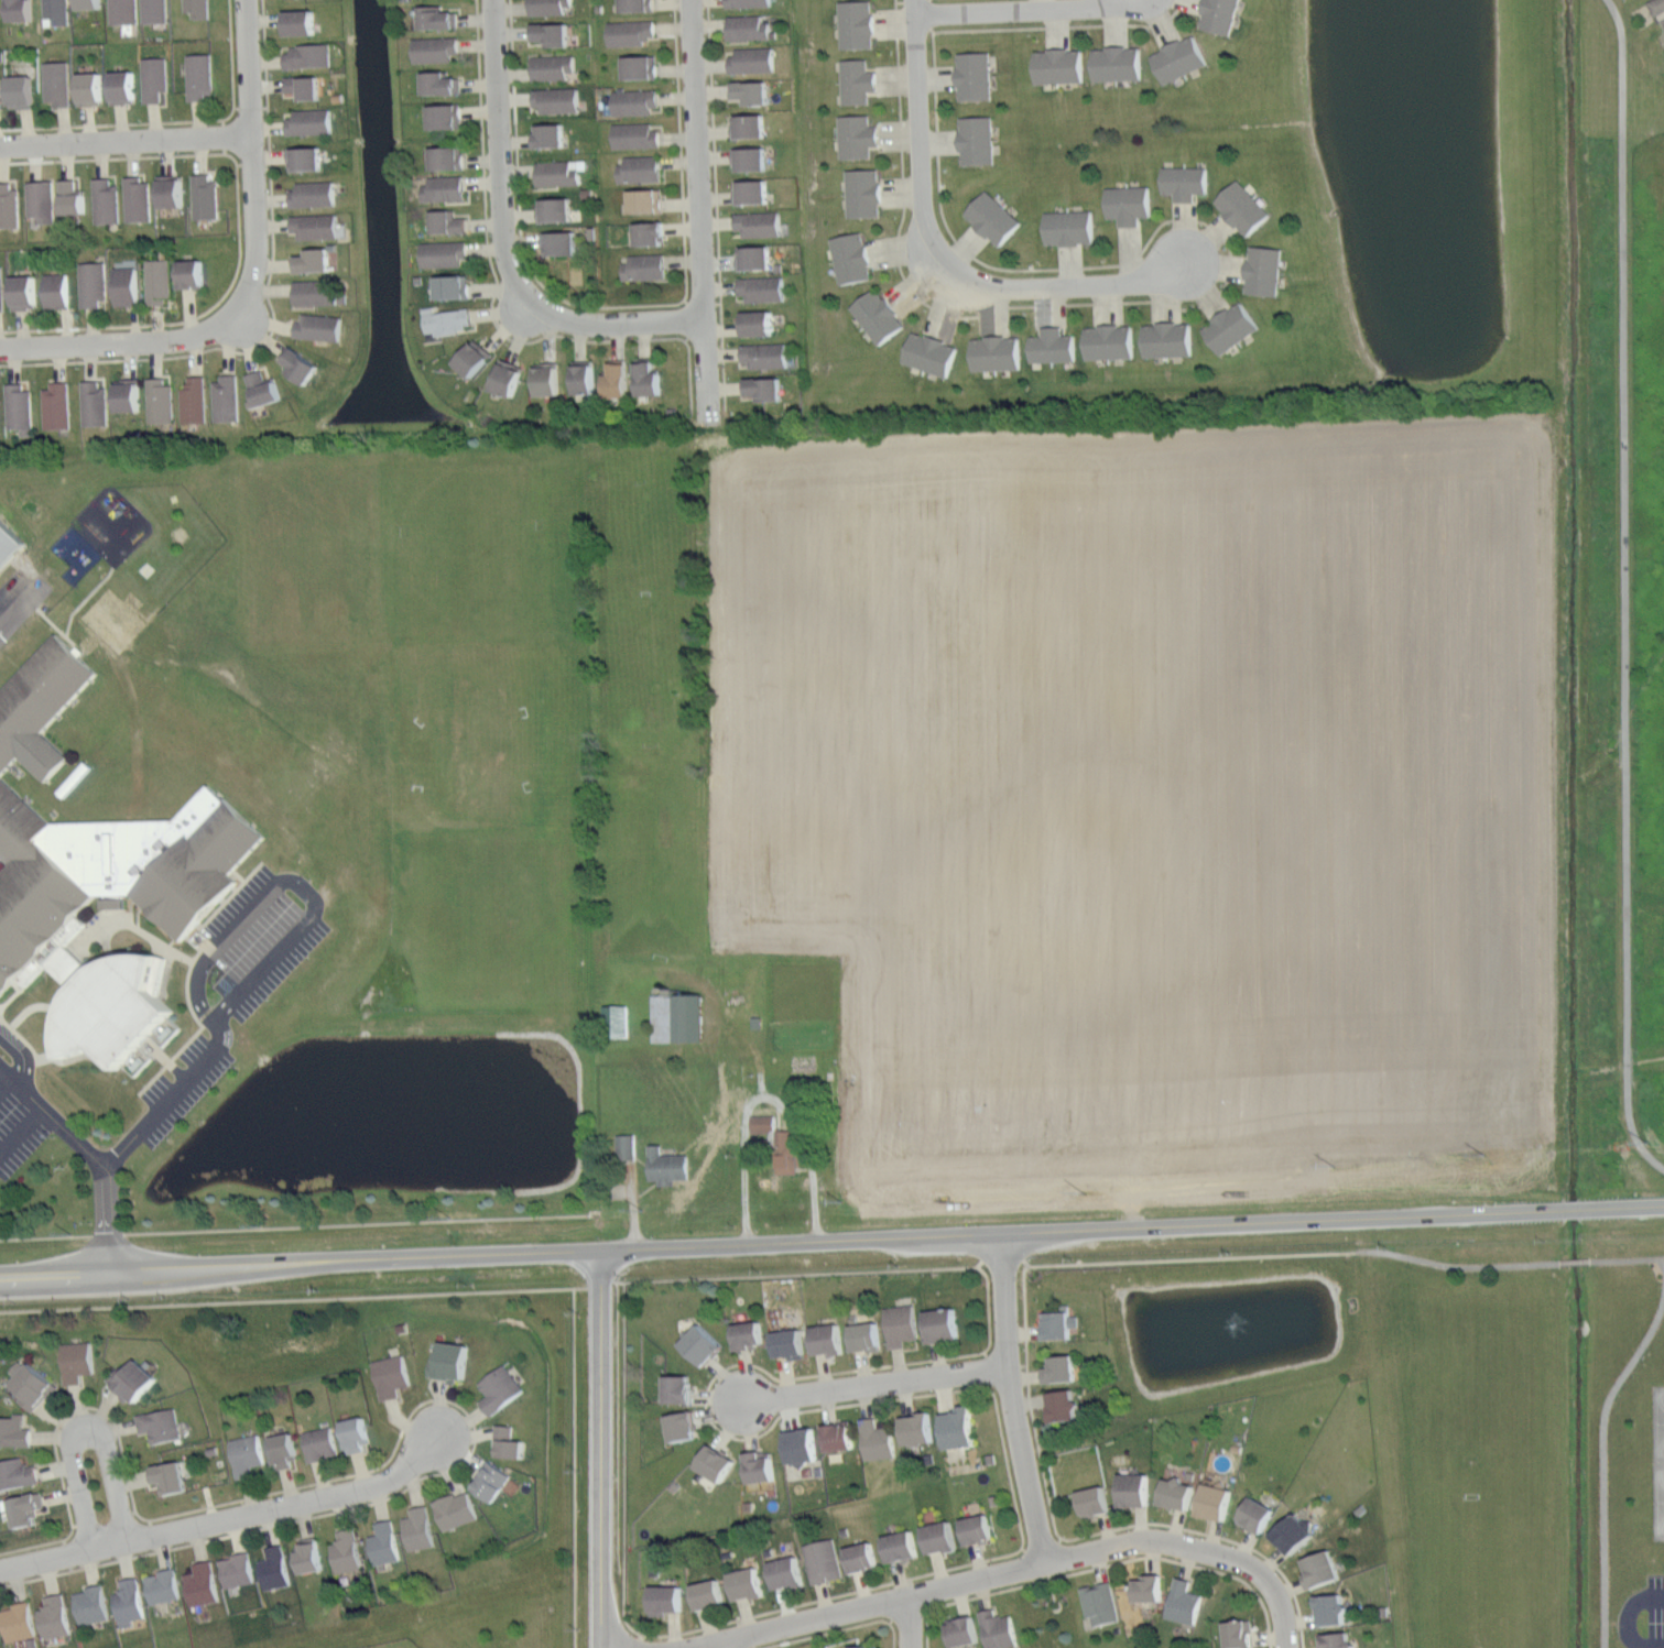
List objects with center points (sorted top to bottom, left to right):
building: (747, 2)
building: (85, 3)
building: (635, 4)
building: (1656, 6)
building: (194, 7)
building: (547, 7)
road: (1022, 8)
building: (1, 9)
building: (15, 9)
building: (53, 10)
building: (151, 10)
building: (119, 11)
road: (1661, 14)
building: (1219, 15)
building: (433, 17)
building: (297, 21)
building: (856, 24)
building: (748, 26)
building: (551, 32)
building: (630, 32)
building: (431, 47)
building: (307, 55)
building: (752, 58)
building: (1177, 58)
building: (1117, 63)
building: (640, 66)
building: (1058, 66)
building: (553, 67)
park: (1616, 72)
building: (195, 75)
building: (151, 76)
building: (975, 76)
building: (857, 80)
building: (54, 81)
building: (436, 81)
building: (119, 86)
building: (301, 86)
building: (86, 87)
building: (18, 90)
building: (752, 91)
building: (2, 92)
building: (557, 99)
building: (634, 101)
building: (441, 116)
road: (173, 120)
building: (308, 122)
building: (751, 125)
road: (923, 130)
building: (550, 134)
building: (634, 134)
building: (858, 137)
road: (124, 140)
building: (977, 140)
building: (443, 156)
building: (749, 157)
building: (303, 159)
road: (249, 160)
building: (640, 168)
building: (557, 173)
building: (1185, 182)
building: (441, 186)
building: (166, 189)
building: (751, 192)
building: (863, 193)
building: (312, 194)
building: (202, 195)
building: (67, 196)
building: (36, 198)
building: (134, 198)
building: (101, 199)
building: (644, 200)
building: (1128, 204)
crop: (1651, 204)
building: (8, 205)
road: (716, 205)
building: (1242, 207)
building: (555, 209)
road: (699, 210)
building: (993, 217)
road: (1181, 219)
building: (443, 220)
building: (758, 222)
building: (313, 225)
road: (238, 227)
building: (1069, 227)
building: (649, 233)
road: (501, 241)
building: (561, 242)
building: (439, 252)
building: (754, 258)
building: (850, 258)
building: (309, 260)
building: (644, 266)
building: (1264, 271)
building: (187, 272)
building: (155, 279)
building: (89, 282)
building: (122, 284)
road: (1058, 284)
building: (448, 286)
building: (53, 288)
building: (761, 288)
building: (1, 291)
building: (20, 292)
building: (313, 292)
road: (493, 297)
road: (271, 305)
road: (615, 305)
building: (877, 315)
building: (443, 319)
building: (757, 323)
building: (316, 327)
building: (1231, 327)
building: (1167, 340)
road: (127, 342)
building: (1110, 342)
building: (1053, 346)
building: (996, 353)
building: (765, 354)
building: (931, 354)
building: (467, 358)
building: (295, 363)
building: (578, 376)
building: (502, 378)
building: (612, 378)
building: (643, 378)
building: (543, 379)
building: (261, 388)
building: (764, 389)
building: (126, 395)
building: (225, 397)
building: (192, 400)
building: (159, 401)
building: (93, 402)
building: (55, 405)
building: (19, 408)
park: (446, 506)
building: (7, 543)
road: (11, 557)
park: (644, 561)
road: (1621, 590)
road: (85, 598)
building: (111, 620)
road: (57, 627)
parking lot: (1, 640)
road: (86, 644)
crop: (1159, 796)
park: (648, 871)
building: (100, 872)
road: (302, 886)
parking lot: (237, 981)
road: (11, 995)
road: (26, 1008)
road: (202, 1014)
building: (678, 1017)
building: (616, 1019)
building: (758, 1021)
road: (45, 1058)
building: (109, 1058)
road: (14, 1073)
road: (182, 1081)
road: (769, 1099)
parking lot: (21, 1114)
road: (30, 1121)
building: (763, 1123)
road: (100, 1133)
building: (626, 1146)
building: (781, 1150)
road: (121, 1152)
road: (642, 1160)
building: (666, 1165)
road: (646, 1188)
road: (633, 1205)
road: (358, 1223)
road: (107, 1233)
road: (45, 1235)
road: (831, 1245)
road: (1347, 1253)
road: (801, 1274)
road: (619, 1280)
road: (580, 1286)
road: (286, 1298)
building: (901, 1324)
building: (1058, 1324)
building: (942, 1325)
fountain: (1243, 1325)
building: (749, 1335)
building: (866, 1335)
building: (827, 1339)
building: (789, 1343)
building: (703, 1344)
building: (447, 1360)
building: (77, 1361)
building: (1061, 1368)
building: (391, 1376)
building: (130, 1379)
building: (32, 1385)
road: (878, 1385)
building: (678, 1387)
building: (500, 1389)
road: (931, 1393)
road: (1010, 1401)
building: (1063, 1405)
park: (1658, 1422)
building: (160, 1423)
road: (617, 1425)
building: (682, 1426)
building: (958, 1427)
park: (1518, 1427)
road: (81, 1428)
building: (916, 1428)
building: (14, 1430)
building: (355, 1433)
building: (837, 1434)
road: (399, 1438)
building: (877, 1440)
building: (507, 1441)
building: (320, 1442)
building: (801, 1445)
building: (284, 1449)
road: (601, 1451)
building: (247, 1454)
building: (715, 1462)
building: (759, 1465)
road: (1603, 1466)
road: (574, 1467)
building: (18, 1474)
building: (170, 1475)
building: (491, 1480)
building: (1133, 1488)
building: (1176, 1493)
building: (1094, 1500)
building: (1215, 1502)
park: (1658, 1502)
building: (26, 1508)
building: (455, 1509)
building: (1257, 1514)
road: (229, 1515)
building: (977, 1528)
building: (418, 1529)
building: (1293, 1532)
building: (939, 1537)
road: (1079, 1537)
building: (384, 1543)
building: (900, 1546)
building: (346, 1551)
building: (309, 1556)
park: (1494, 1557)
building: (862, 1558)
building: (824, 1560)
road: (1246, 1562)
road: (1105, 1564)
building: (275, 1568)
building: (1320, 1569)
building: (237, 1570)
building: (786, 1572)
building: (746, 1582)
building: (202, 1584)
building: (163, 1585)
building: (1149, 1589)
building: (708, 1594)
road: (926, 1594)
building: (665, 1598)
building: (1183, 1601)
building: (130, 1602)
road: (1053, 1602)
building: (1102, 1602)
building: (93, 1604)
building: (1330, 1608)
parking lot: (1655, 1611)
park: (1049, 1613)
road: (1629, 1614)
building: (55, 1617)
building: (19, 1622)
road: (910, 1624)
road: (838, 1628)
building: (999, 1629)
building: (962, 1631)
building: (1240, 1633)
building: (1, 1635)
building: (1337, 1640)
road: (728, 1646)
building: (863, 1647)

